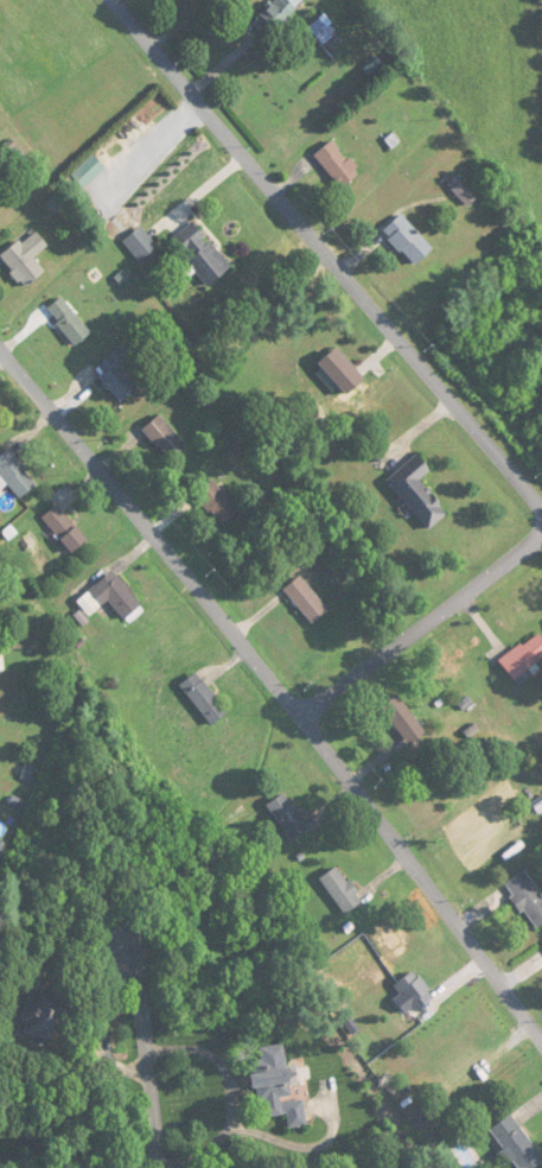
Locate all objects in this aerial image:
building: (276, 14)
building: (321, 30)
building: (338, 164)
building: (408, 240)
building: (141, 246)
road: (326, 252)
building: (203, 254)
building: (26, 259)
building: (69, 320)
building: (342, 372)
building: (117, 375)
building: (165, 437)
building: (15, 475)
building: (417, 491)
building: (216, 502)
building: (65, 528)
building: (111, 598)
building: (306, 599)
road: (421, 623)
building: (524, 656)
road: (282, 687)
building: (204, 699)
building: (403, 719)
building: (288, 817)
building: (340, 889)
building: (527, 897)
building: (414, 990)
building: (45, 1011)
road: (142, 1037)
building: (276, 1086)
building: (516, 1144)

